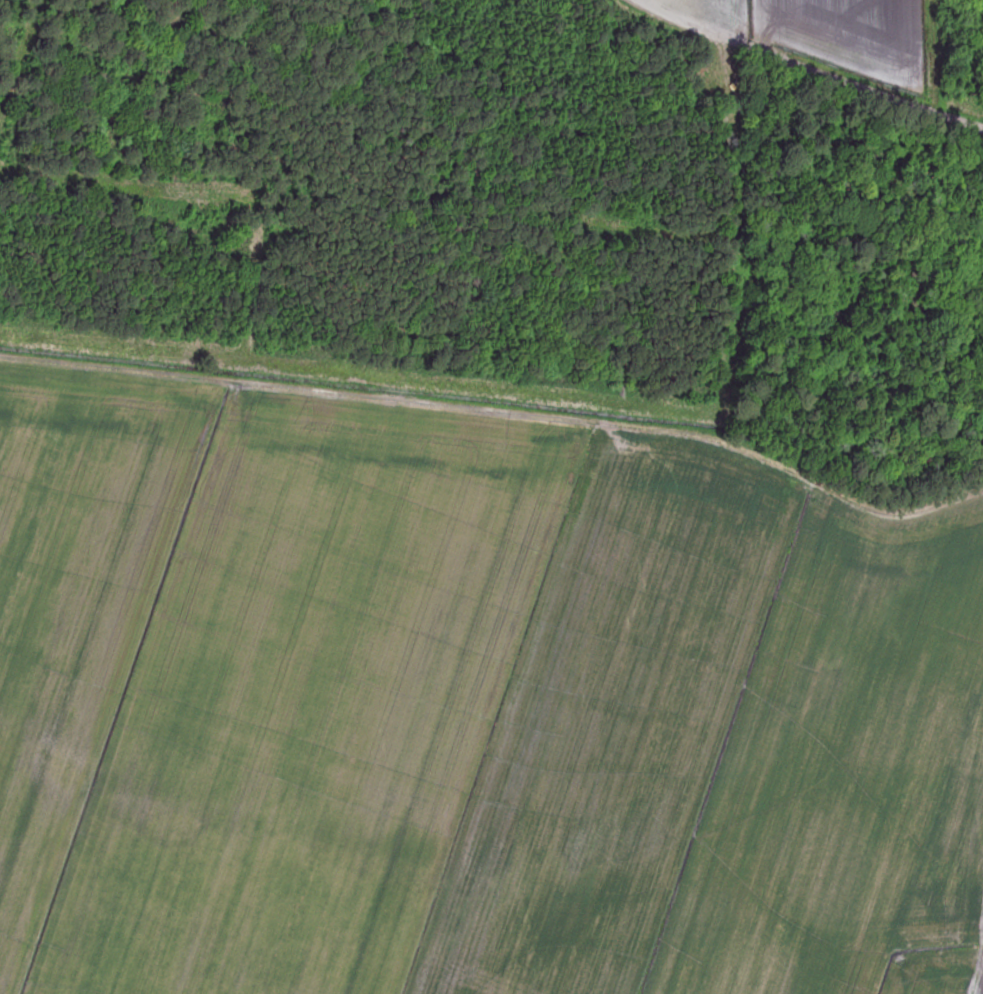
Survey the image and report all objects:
road: (837, 69)

